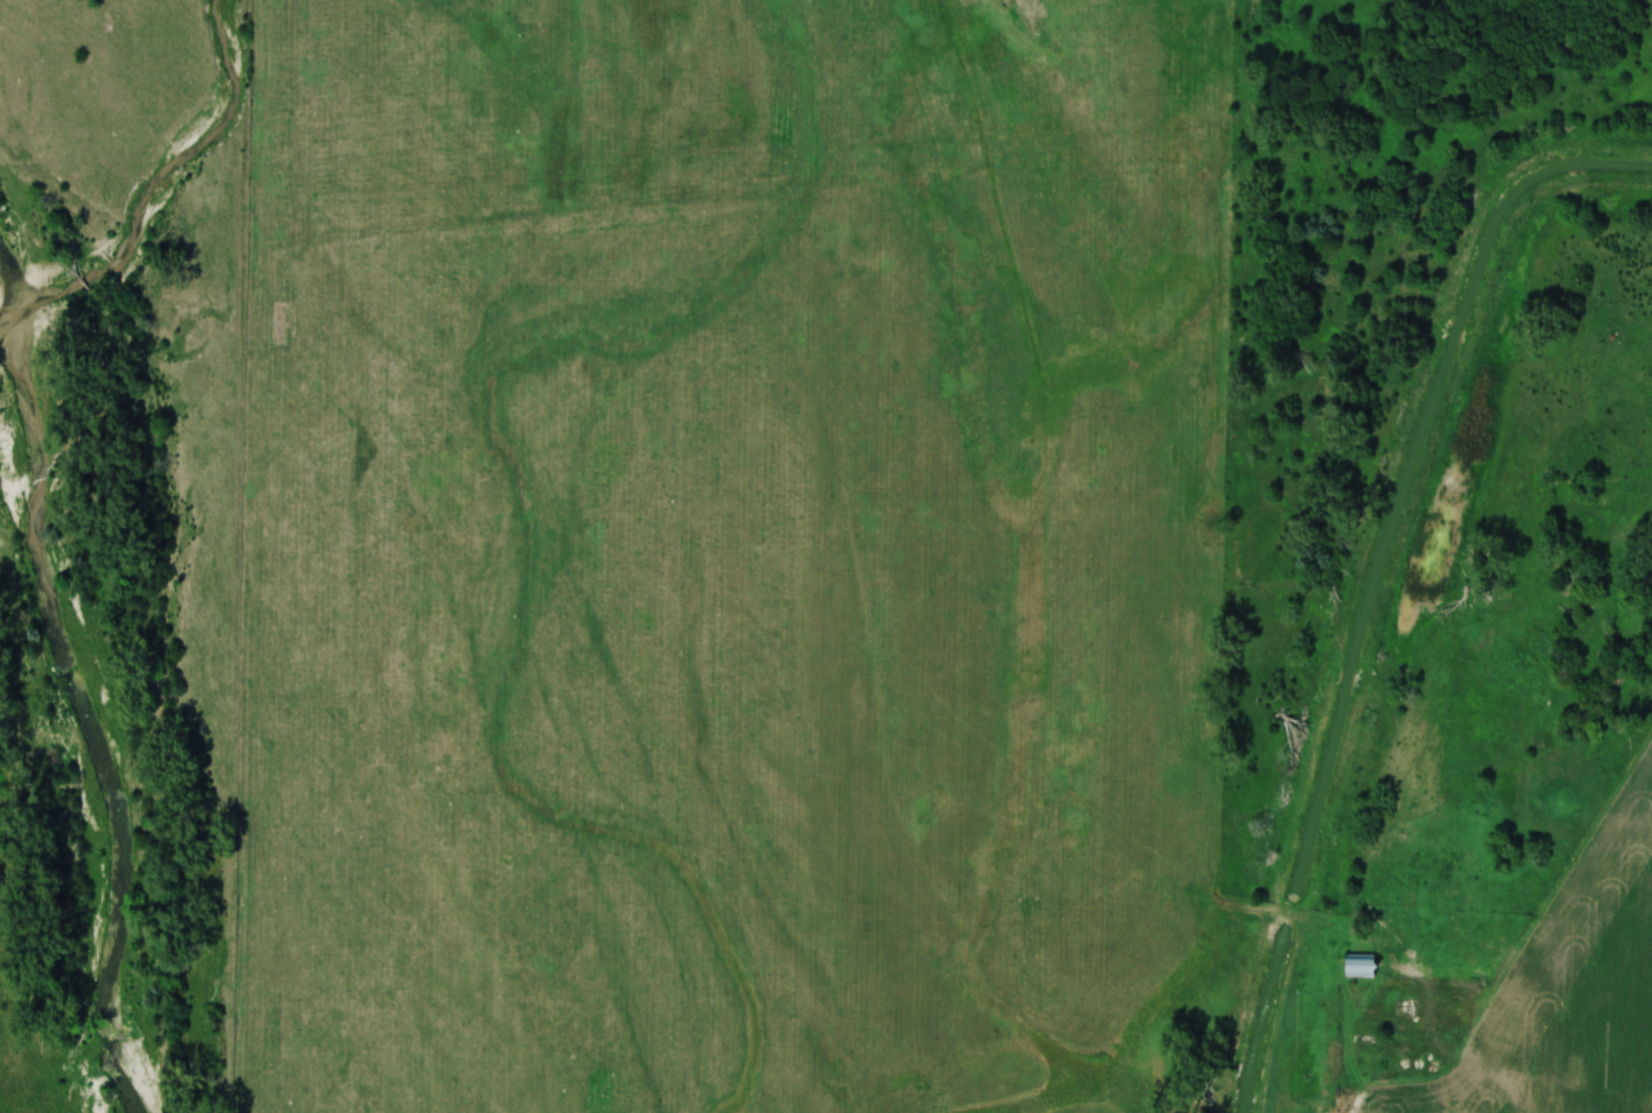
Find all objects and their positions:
building: (1395, 919)
building: (1357, 965)
building: (1471, 967)
building: (1403, 999)
road: (1443, 1056)

